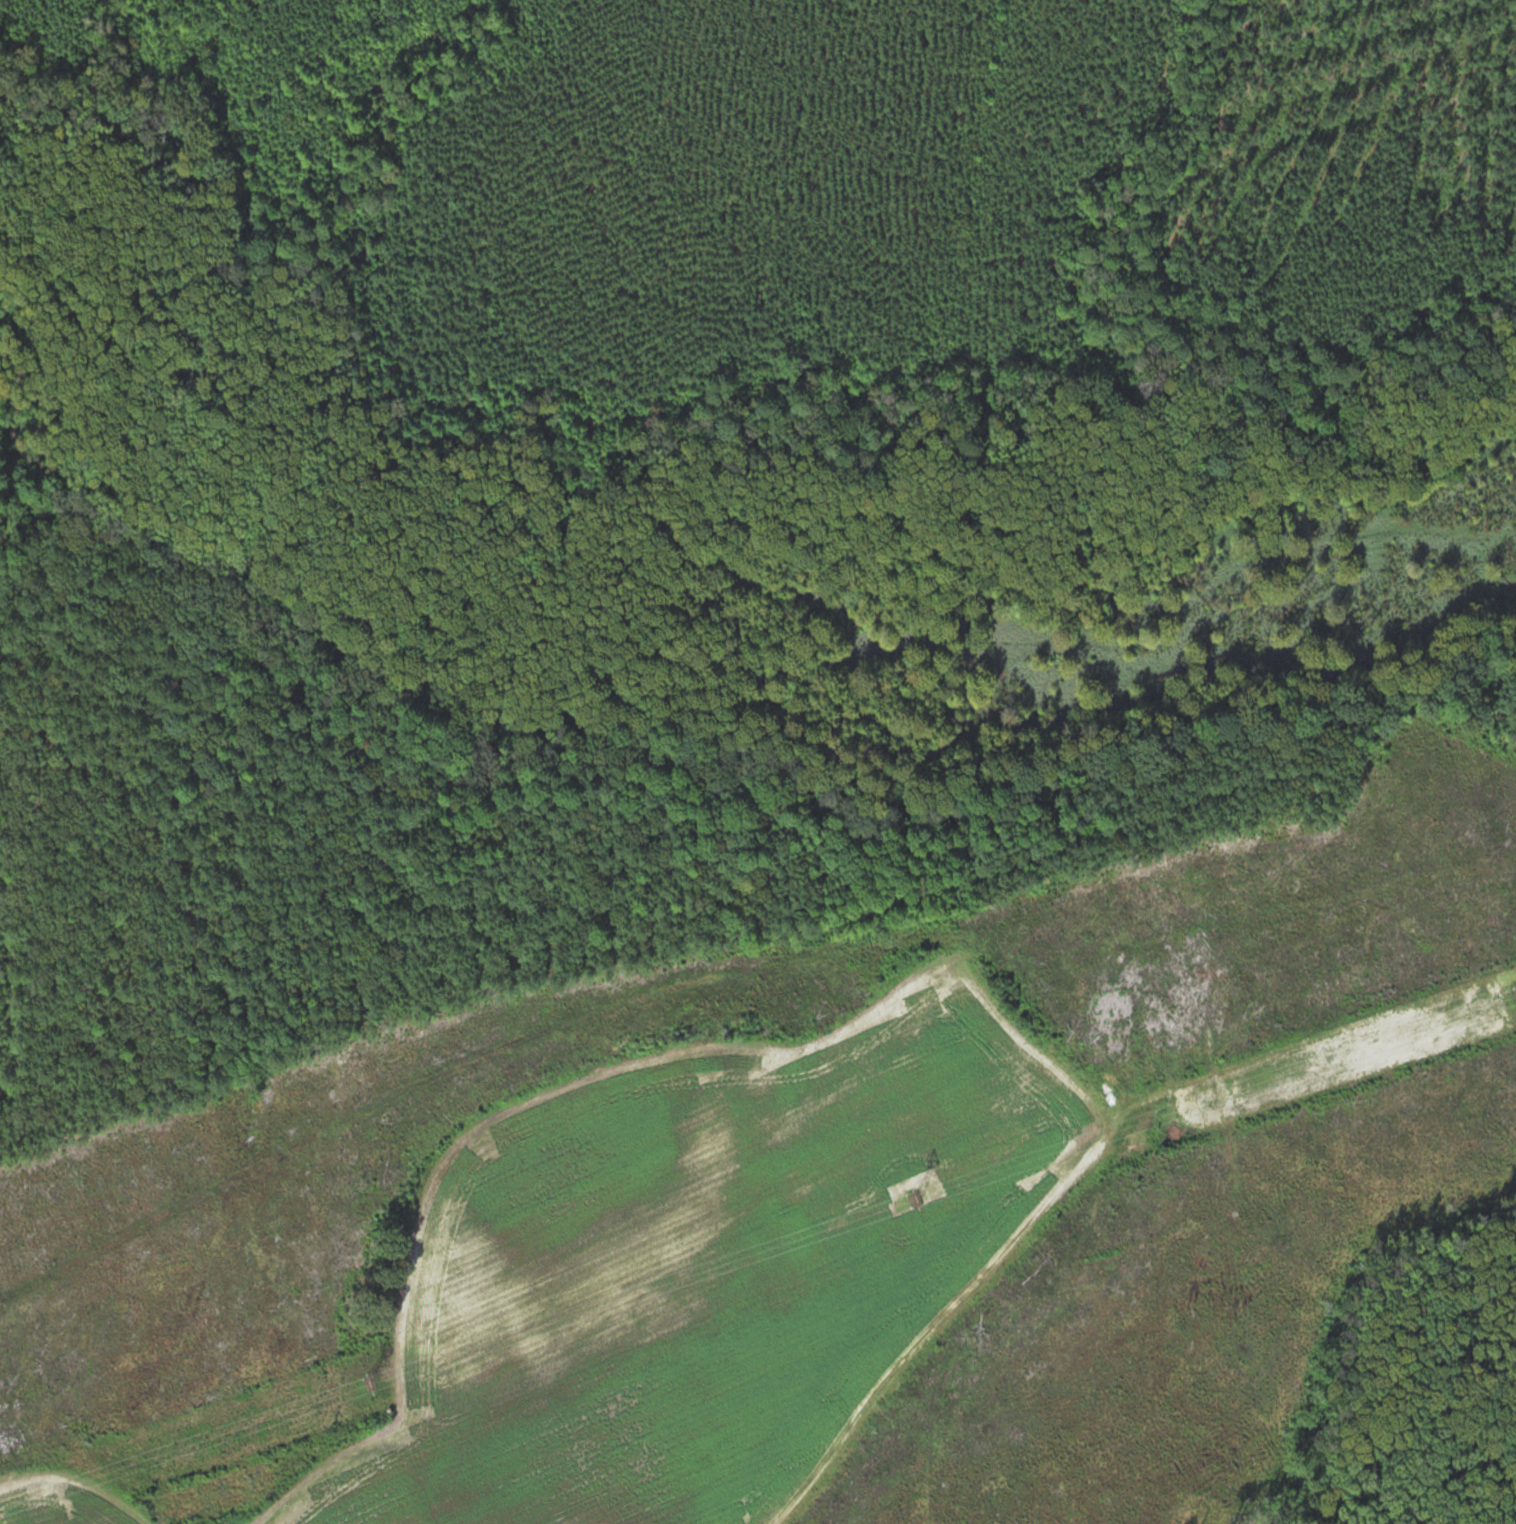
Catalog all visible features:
power tower: (910, 1194)

